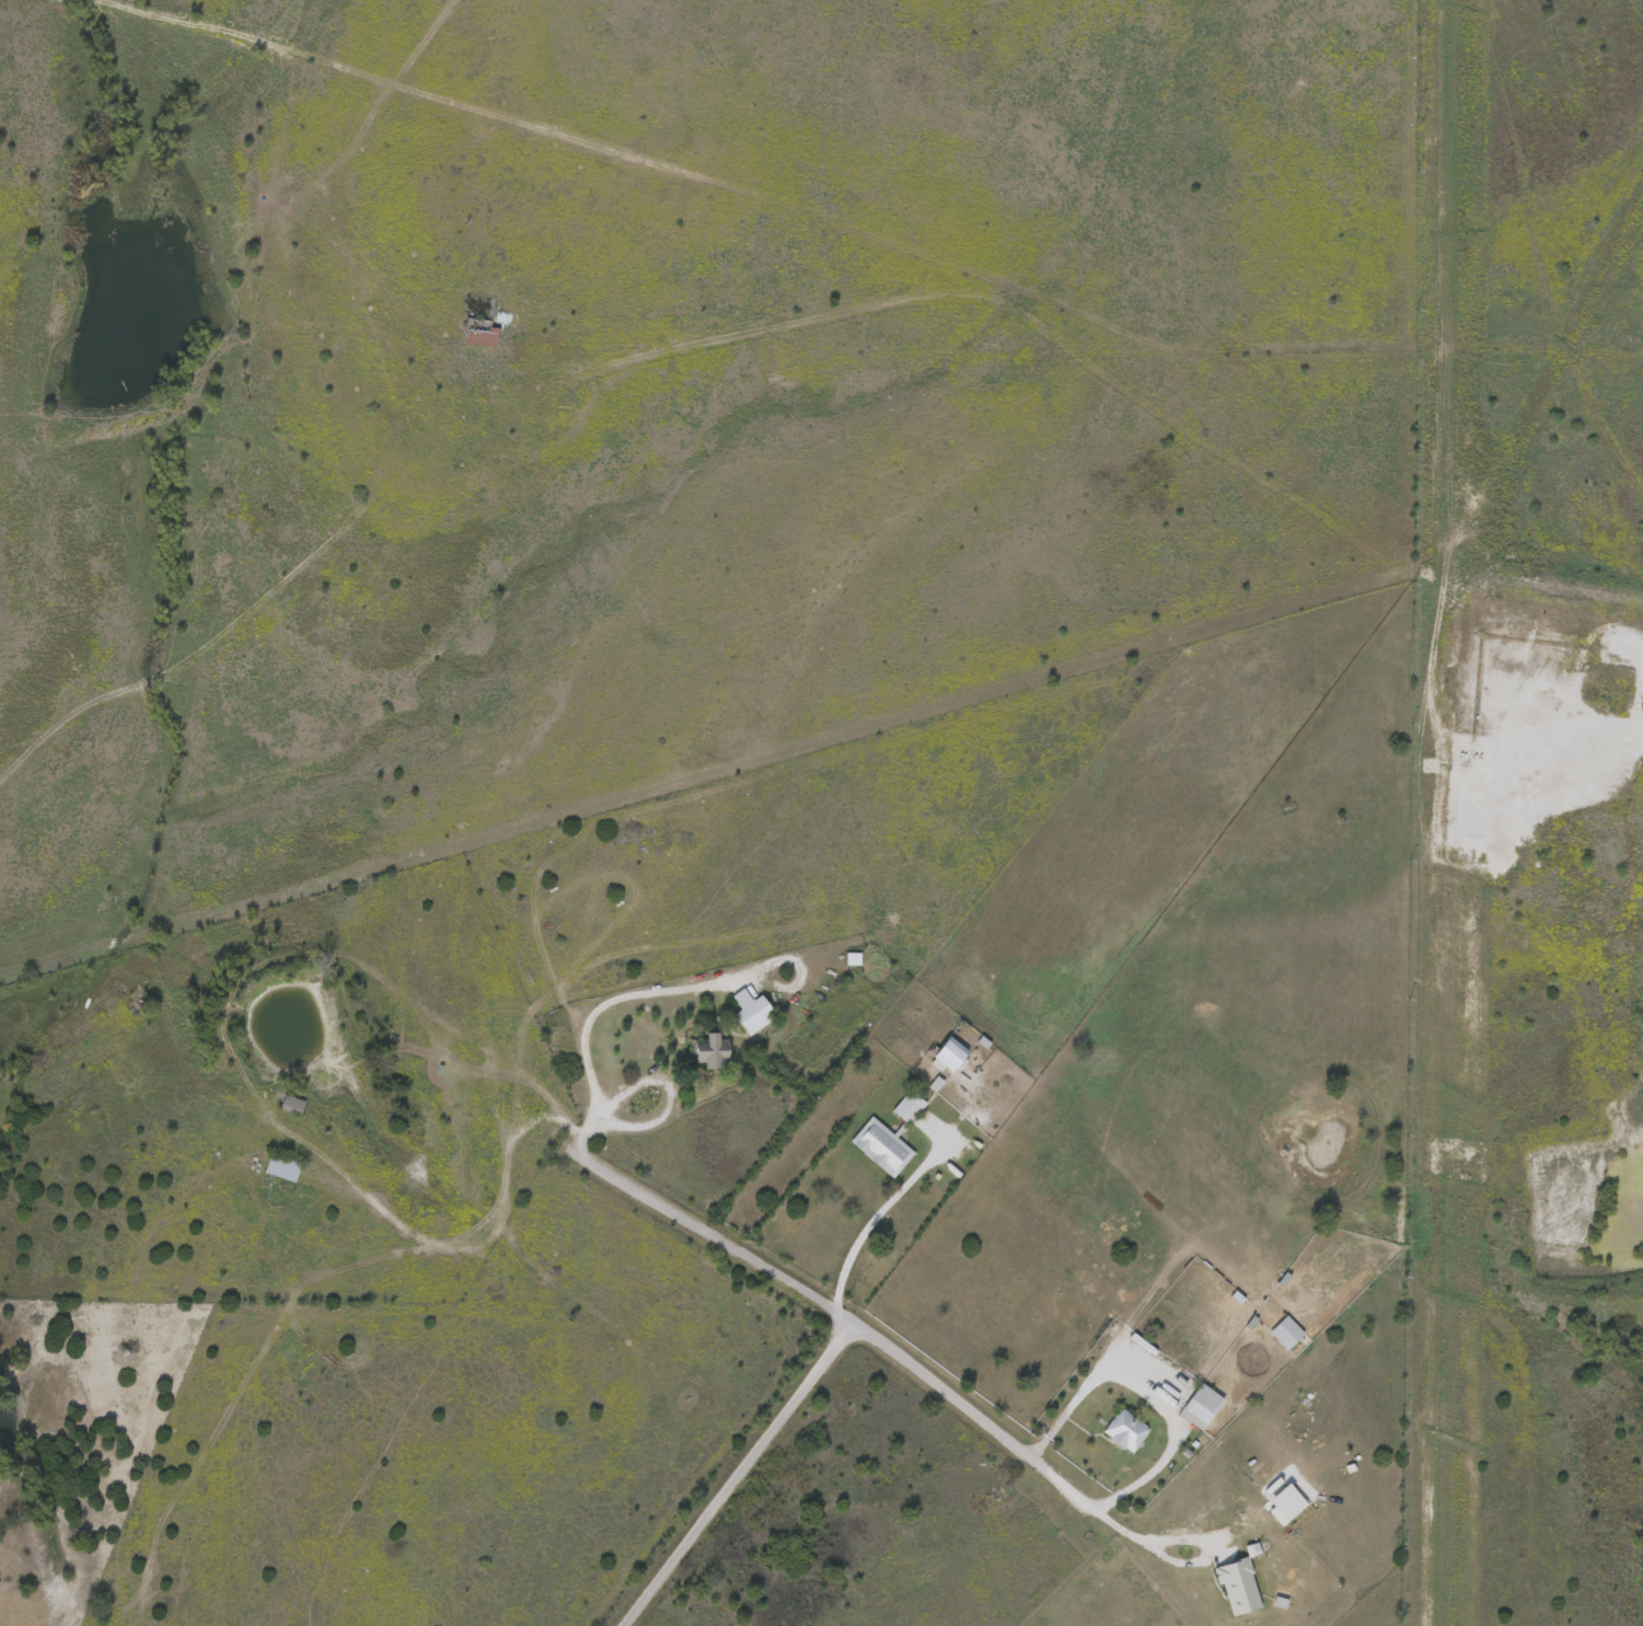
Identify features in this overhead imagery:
building: (481, 332)
road: (1640, 722)
road: (608, 999)
building: (755, 1014)
building: (714, 1048)
building: (951, 1053)
road: (656, 1075)
building: (292, 1104)
building: (909, 1106)
building: (881, 1145)
building: (284, 1166)
road: (888, 1198)
road: (460, 1239)
road: (808, 1294)
building: (1287, 1330)
road: (1146, 1389)
building: (1202, 1405)
building: (1126, 1429)
road: (737, 1475)
road: (1145, 1533)
building: (1239, 1585)

